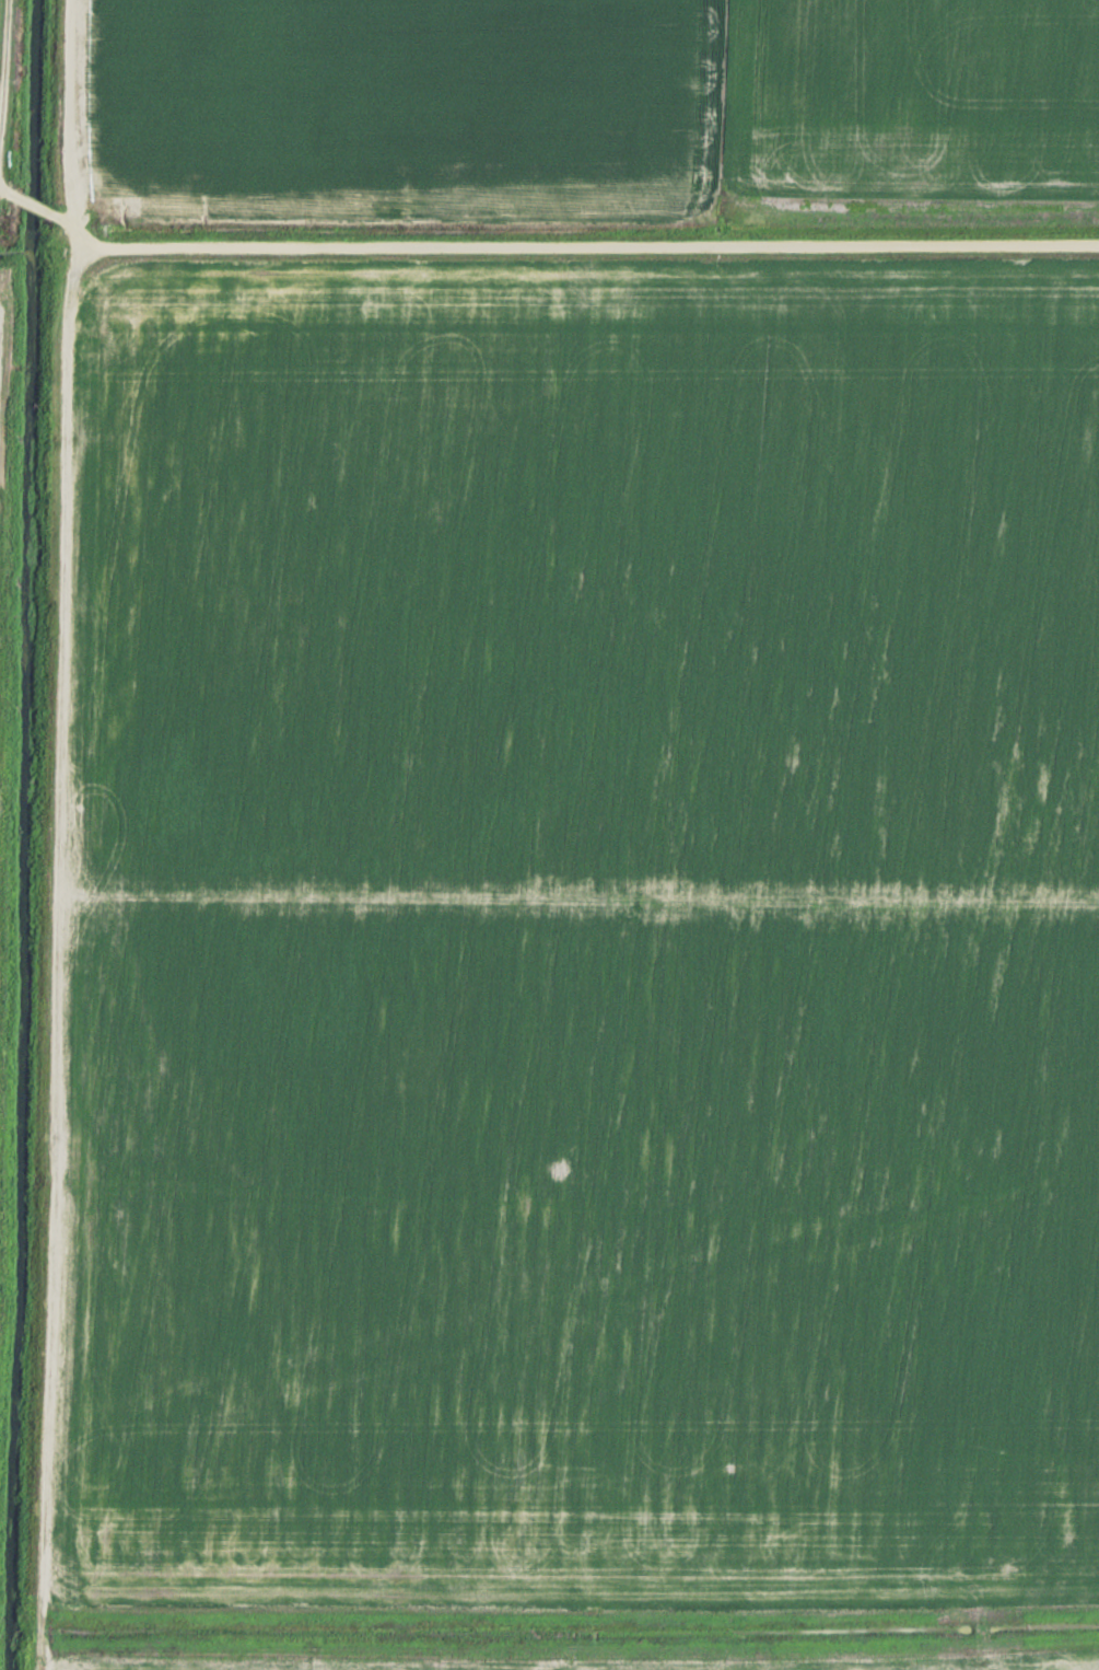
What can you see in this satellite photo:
road: (8, 70)
road: (2, 187)
road: (30, 200)
road: (60, 216)
road: (587, 240)
road: (59, 834)

